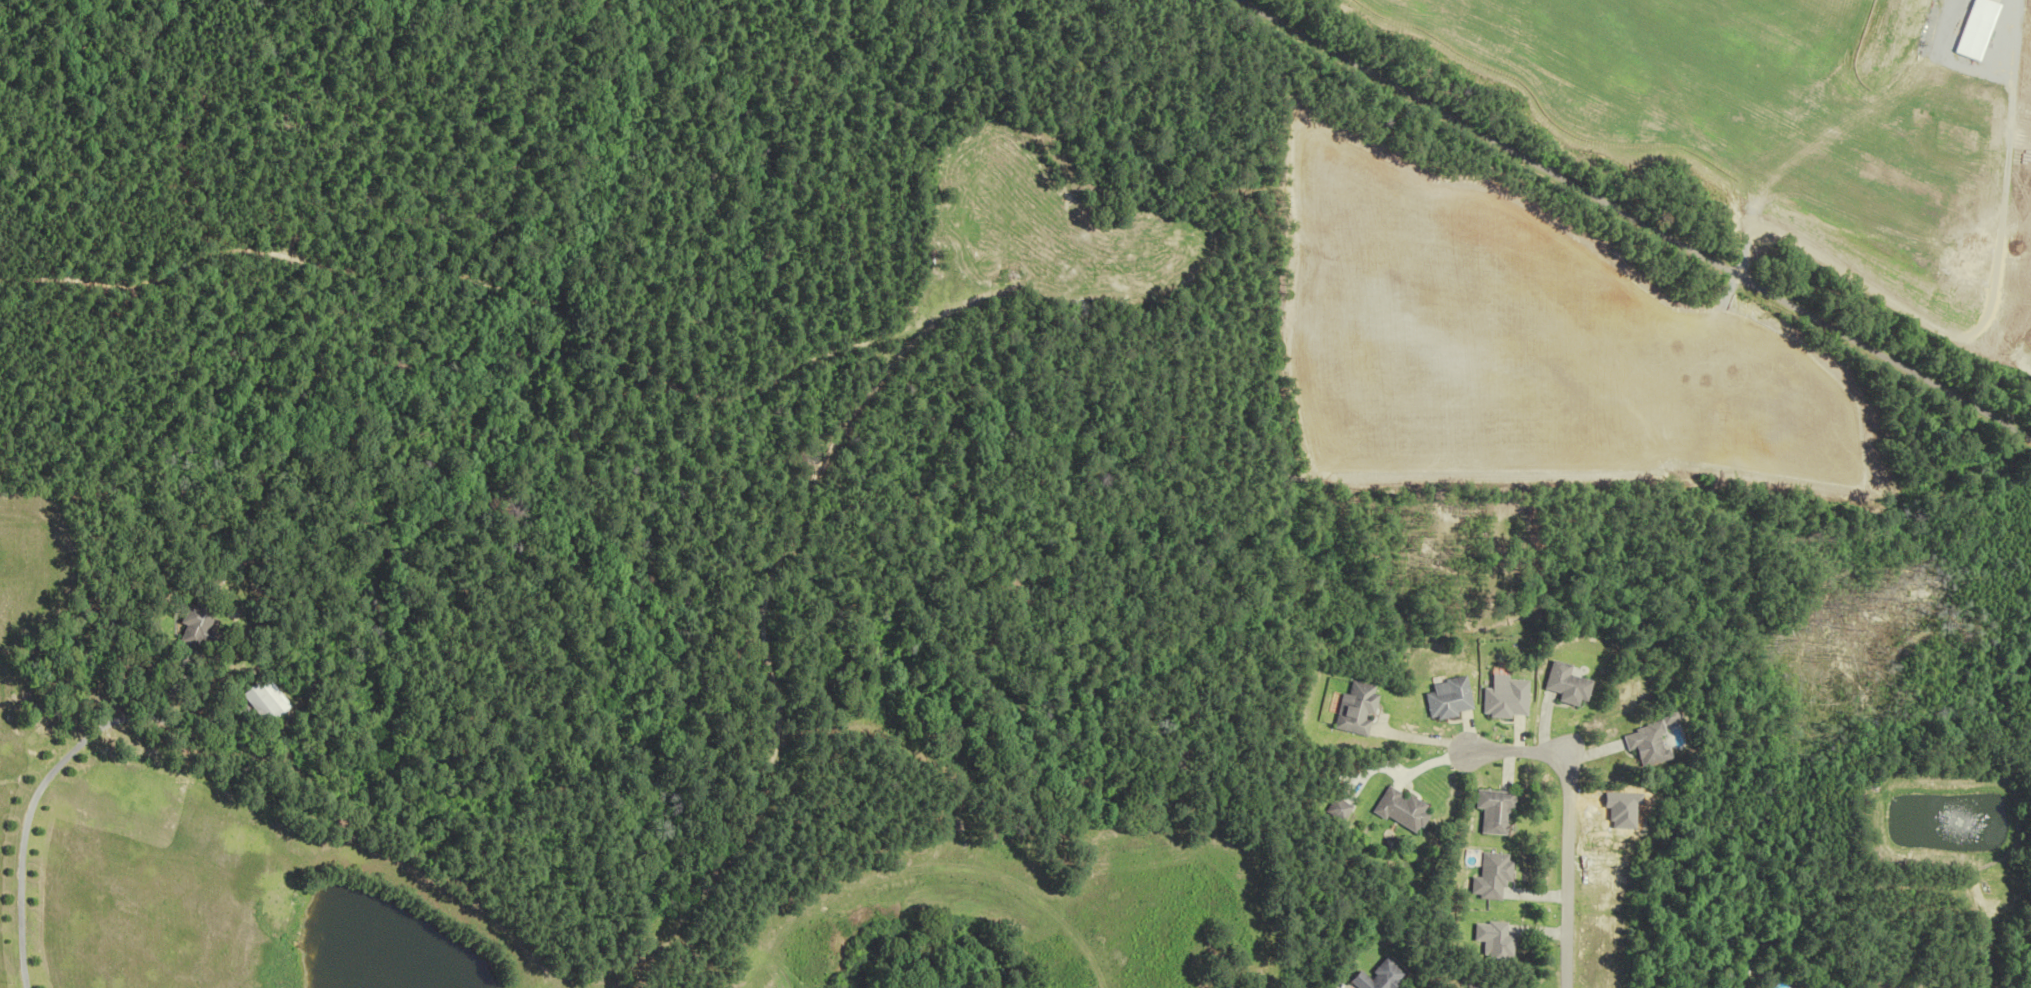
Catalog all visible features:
road: (1630, 219)
road: (704, 398)
road: (757, 609)
building: (199, 626)
building: (1563, 685)
building: (1446, 698)
building: (1504, 700)
building: (263, 703)
building: (1355, 709)
building: (1637, 743)
road: (25, 806)
building: (1332, 809)
building: (1392, 810)
building: (1487, 812)
road: (1565, 825)
building: (1484, 878)
building: (1486, 942)
building: (1375, 977)
building: (1473, 987)

